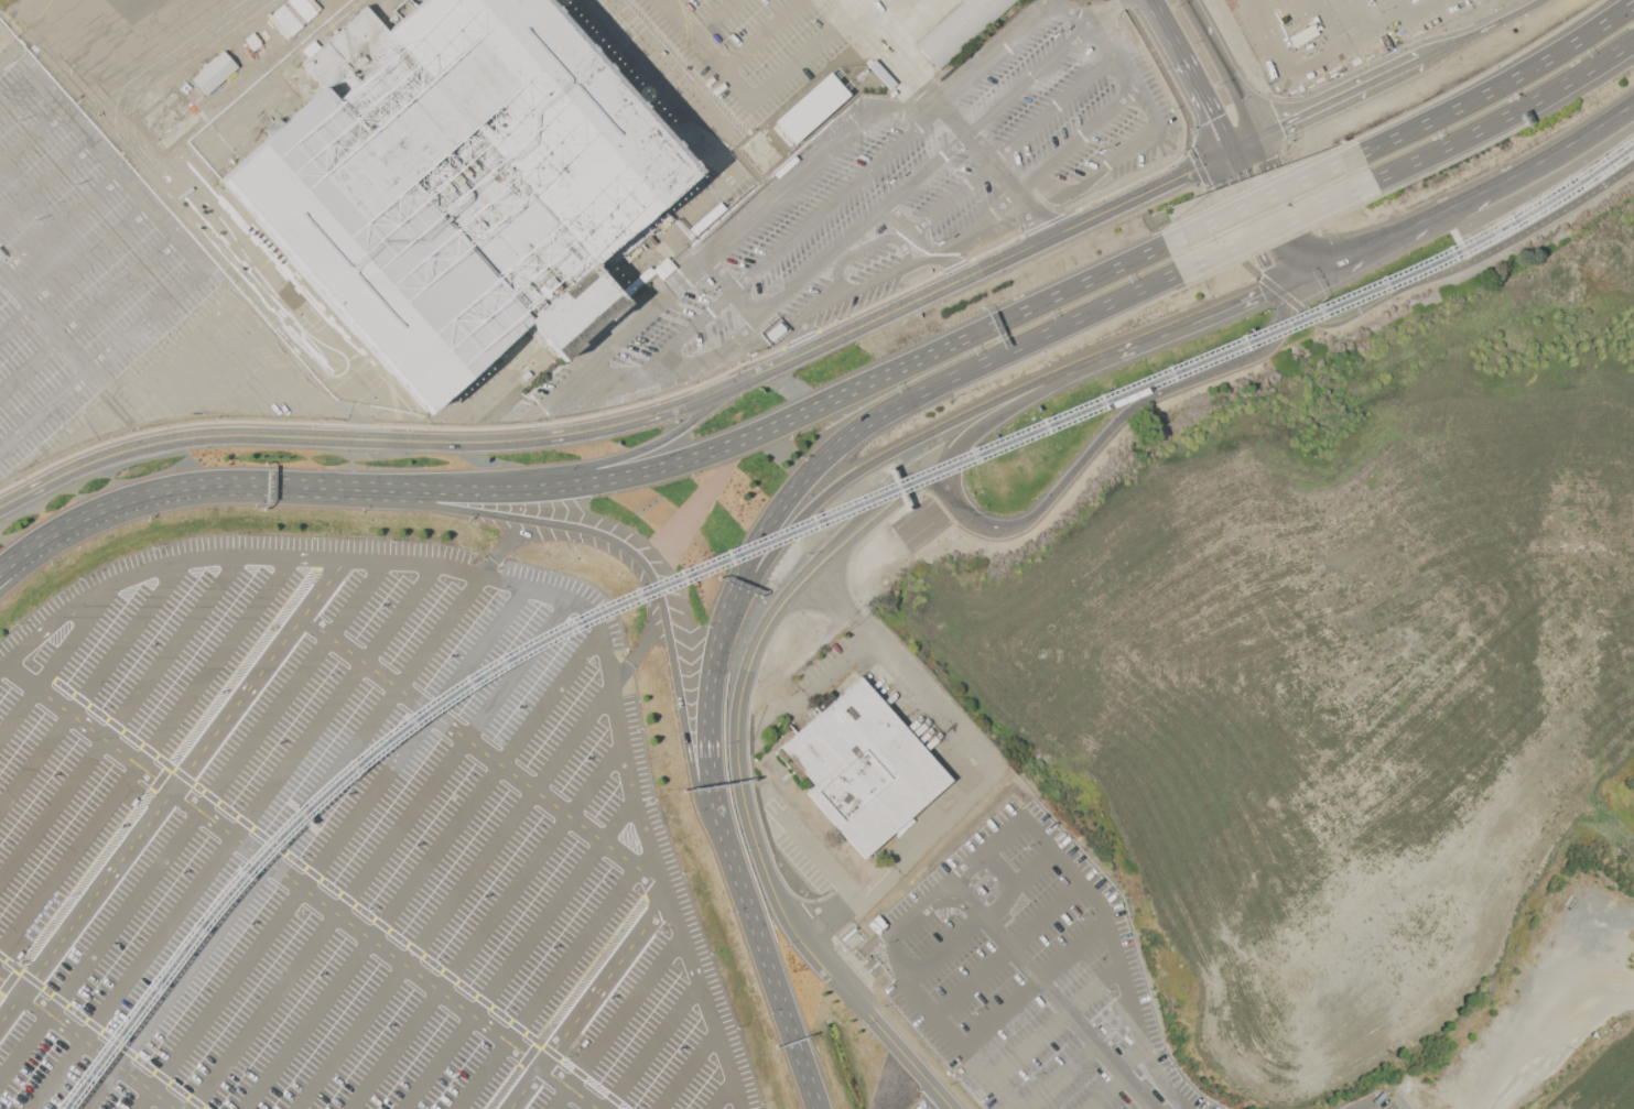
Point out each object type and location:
road: (1444, 0)
road: (670, 2)
road: (847, 3)
road: (1405, 9)
road: (1428, 9)
building: (291, 15)
road: (715, 18)
road: (1359, 19)
building: (924, 20)
road: (1200, 21)
road: (1025, 25)
road: (1320, 26)
road: (1168, 28)
building: (960, 29)
road: (1483, 30)
road: (759, 33)
parking lot: (1335, 34)
airport apron: (140, 43)
parking lot: (757, 43)
road: (894, 54)
airport apron: (779, 65)
road: (1308, 67)
building: (213, 72)
road: (1503, 83)
road: (17, 88)
road: (1236, 89)
road: (755, 90)
road: (1341, 97)
road: (1205, 104)
building: (810, 108)
road: (987, 112)
road: (1507, 113)
traffic signals: (1213, 119)
street lamp: (20, 120)
traffic signals: (1281, 126)
road: (32, 135)
road: (1013, 144)
road: (1244, 145)
road: (1563, 148)
traffic signals: (1269, 161)
road: (1198, 162)
road: (1232, 163)
road: (1202, 166)
road: (997, 167)
road: (121, 170)
traffic signals: (1192, 172)
road: (1095, 174)
road: (46, 180)
parking lot: (1029, 180)
road: (1027, 183)
street lamp: (77, 184)
building: (461, 192)
road: (1265, 197)
road: (1287, 204)
street lamp: (36, 220)
road: (61, 225)
road: (1277, 225)
road: (1260, 228)
road: (739, 229)
road: (1404, 229)
road: (788, 240)
road: (867, 246)
road: (1469, 257)
parking lot: (77, 261)
road: (75, 270)
road: (977, 271)
road: (802, 276)
road: (1300, 278)
parking lot: (854, 282)
road: (867, 283)
road: (729, 289)
road: (89, 314)
road: (44, 319)
road: (1201, 319)
road: (104, 359)
road: (1097, 361)
road: (242, 368)
road: (748, 378)
road: (856, 389)
road: (1157, 395)
road: (901, 401)
road: (1003, 412)
road: (645, 416)
road: (410, 441)
road: (120, 452)
road: (634, 454)
road: (869, 465)
road: (180, 490)
road: (431, 490)
road: (966, 515)
road: (572, 526)
railway: (778, 531)
railway: (786, 539)
airport: (816, 554)
road: (20, 556)
road: (488, 567)
road: (22, 568)
road: (541, 587)
road: (842, 609)
road: (55, 659)
road: (619, 674)
road: (835, 675)
road: (93, 685)
road: (120, 716)
road: (483, 751)
road: (147, 753)
road: (710, 759)
building: (865, 769)
road: (980, 774)
road: (162, 778)
road: (740, 783)
road: (173, 790)
road: (704, 804)
road: (194, 819)
road: (235, 836)
road: (284, 840)
parking lot: (343, 844)
road: (334, 846)
road: (1050, 847)
road: (381, 852)
road: (811, 856)
road: (1003, 867)
road: (422, 869)
road: (302, 887)
road: (336, 891)
road: (454, 896)
road: (982, 916)
road: (825, 918)
road: (486, 926)
road: (896, 937)
road: (1009, 947)
road: (520, 954)
parking lot: (1019, 968)
road: (1034, 981)
road: (545, 988)
road: (1094, 990)
road: (573, 994)
road: (778, 994)
road: (1051, 997)
road: (588, 1003)
road: (942, 1019)
road: (617, 1022)
road: (102, 1031)
road: (87, 1042)
road: (1146, 1043)
road: (652, 1046)
road: (1031, 1046)
road: (1569, 1050)
road: (1130, 1054)
road: (688, 1070)
road: (1059, 1077)
road: (1107, 1094)
road: (723, 1095)
parking lot: (1377, 1100)
road: (930, 1101)
road: (1153, 1108)

